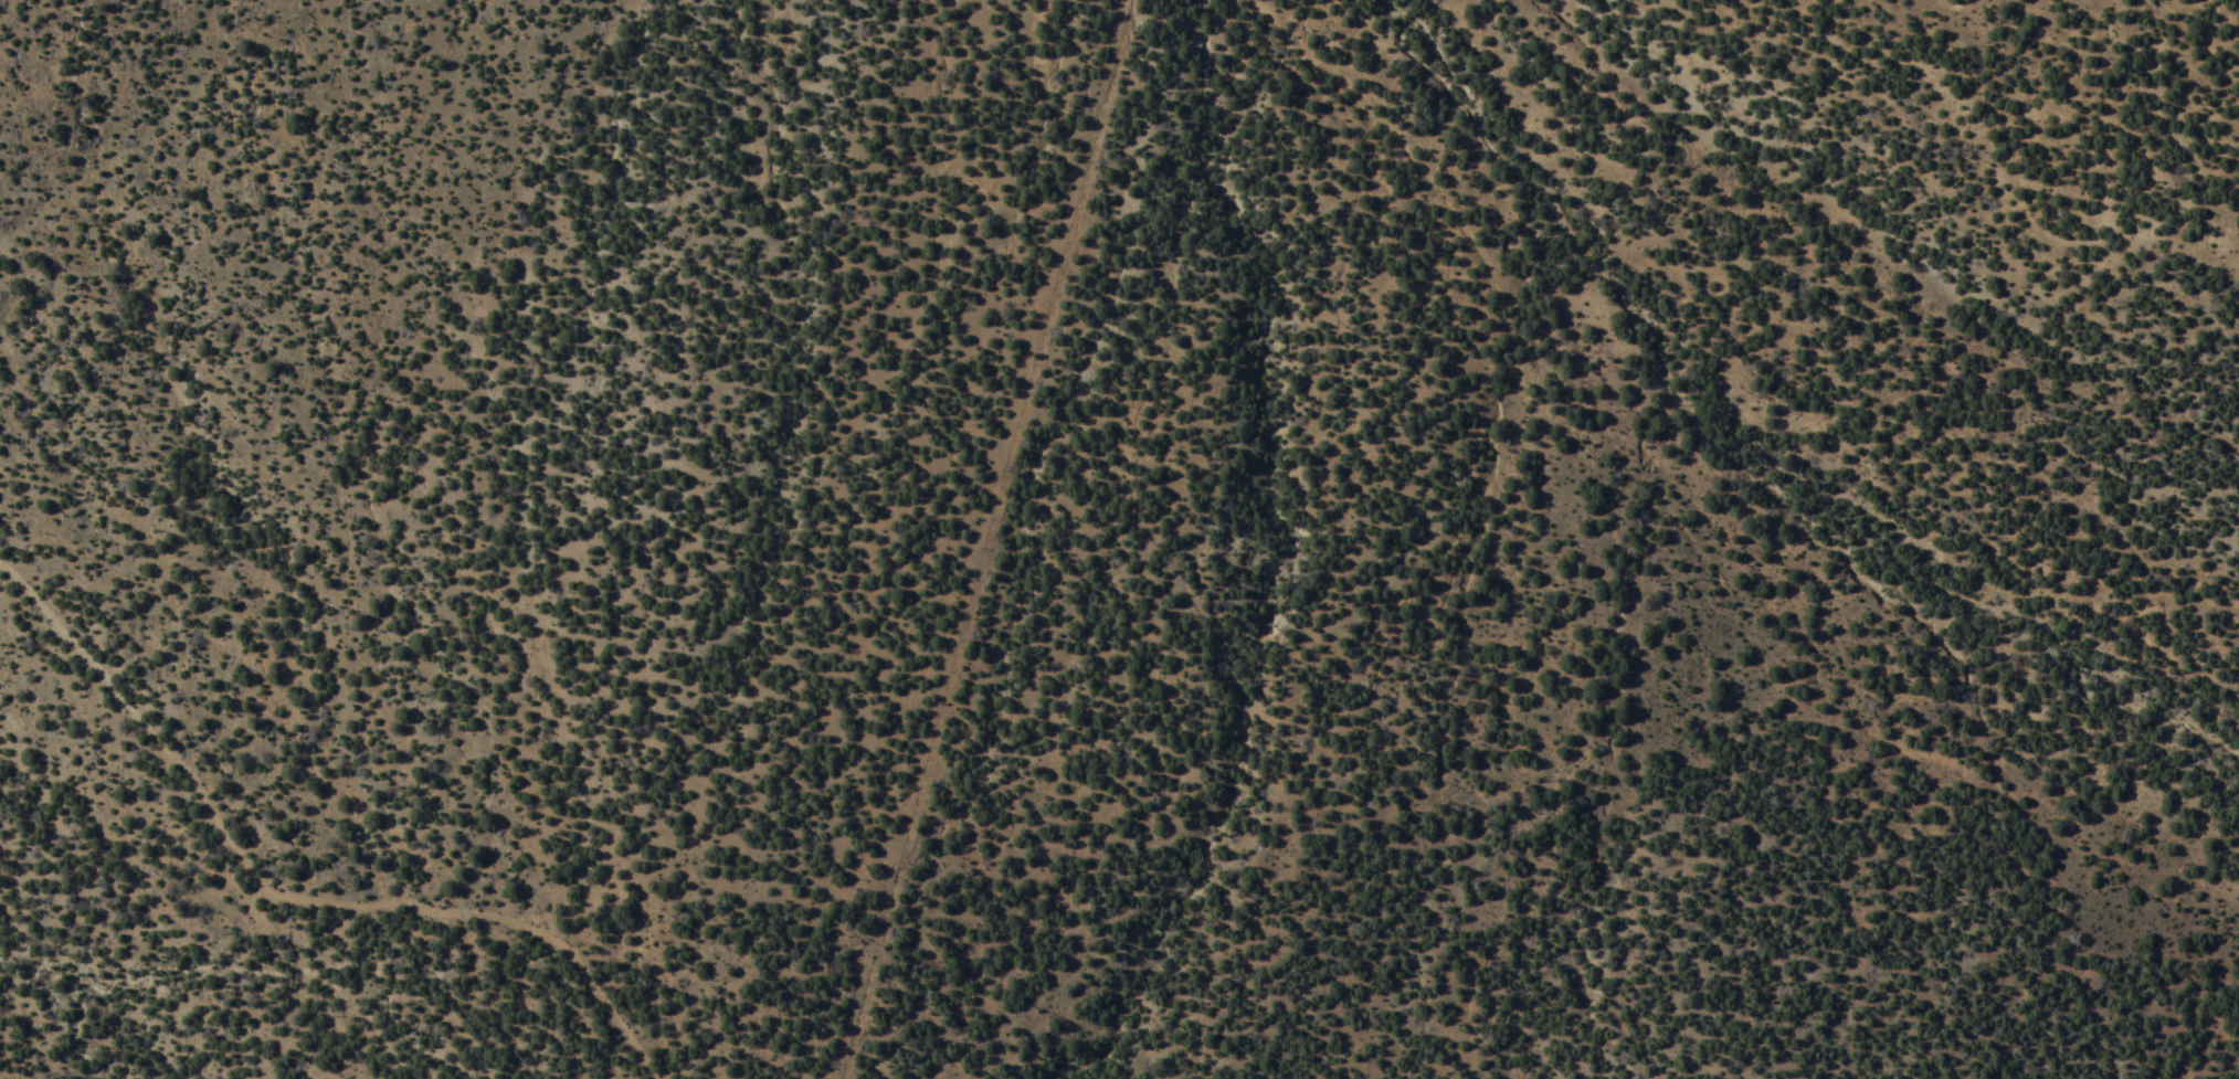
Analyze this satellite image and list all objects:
road: (991, 539)

